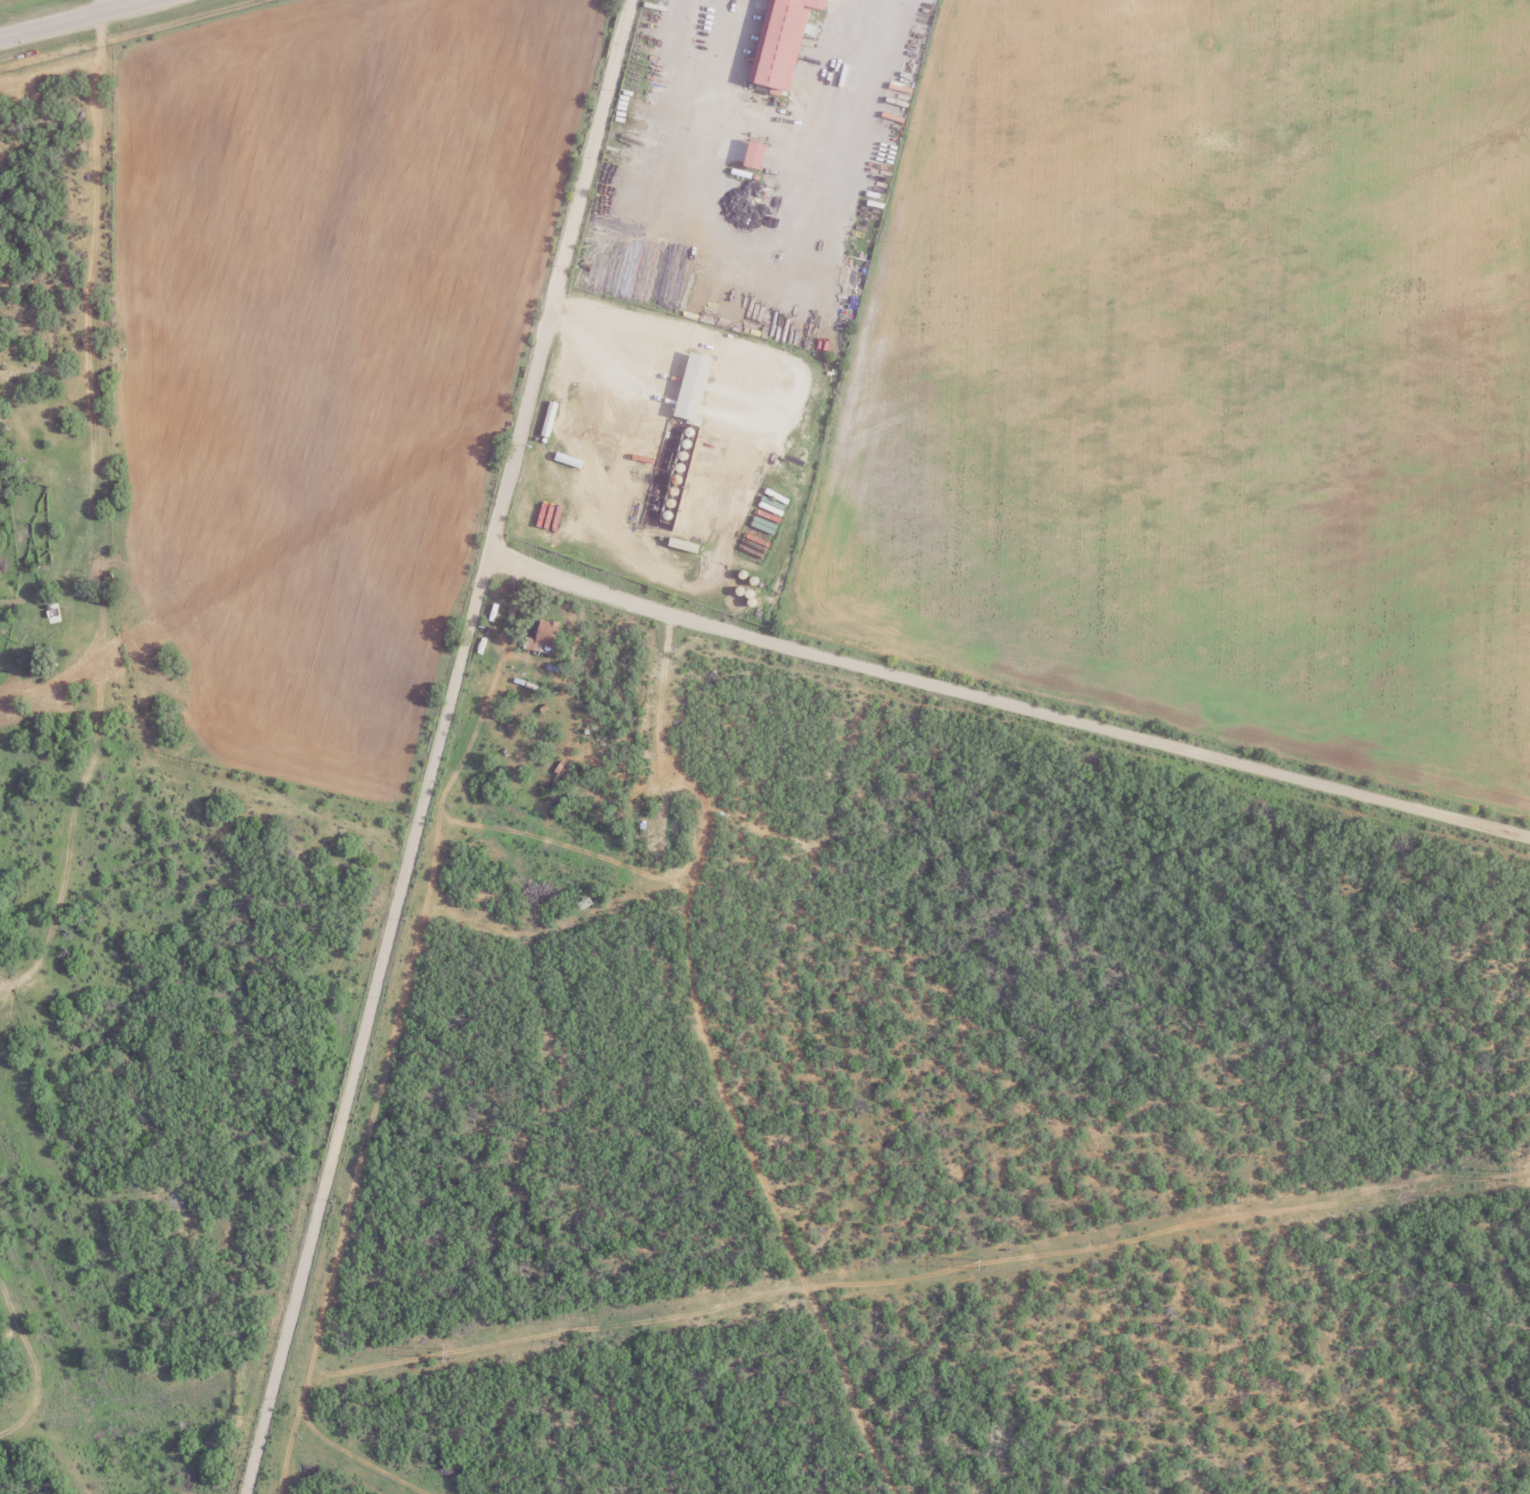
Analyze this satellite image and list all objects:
road: (109, 4)
road: (70, 18)
road: (94, 306)
building: (700, 535)
building: (544, 637)
road: (1008, 698)
road: (440, 746)
power tower: (1505, 1176)
power tower: (979, 1265)
power tower: (445, 1353)

